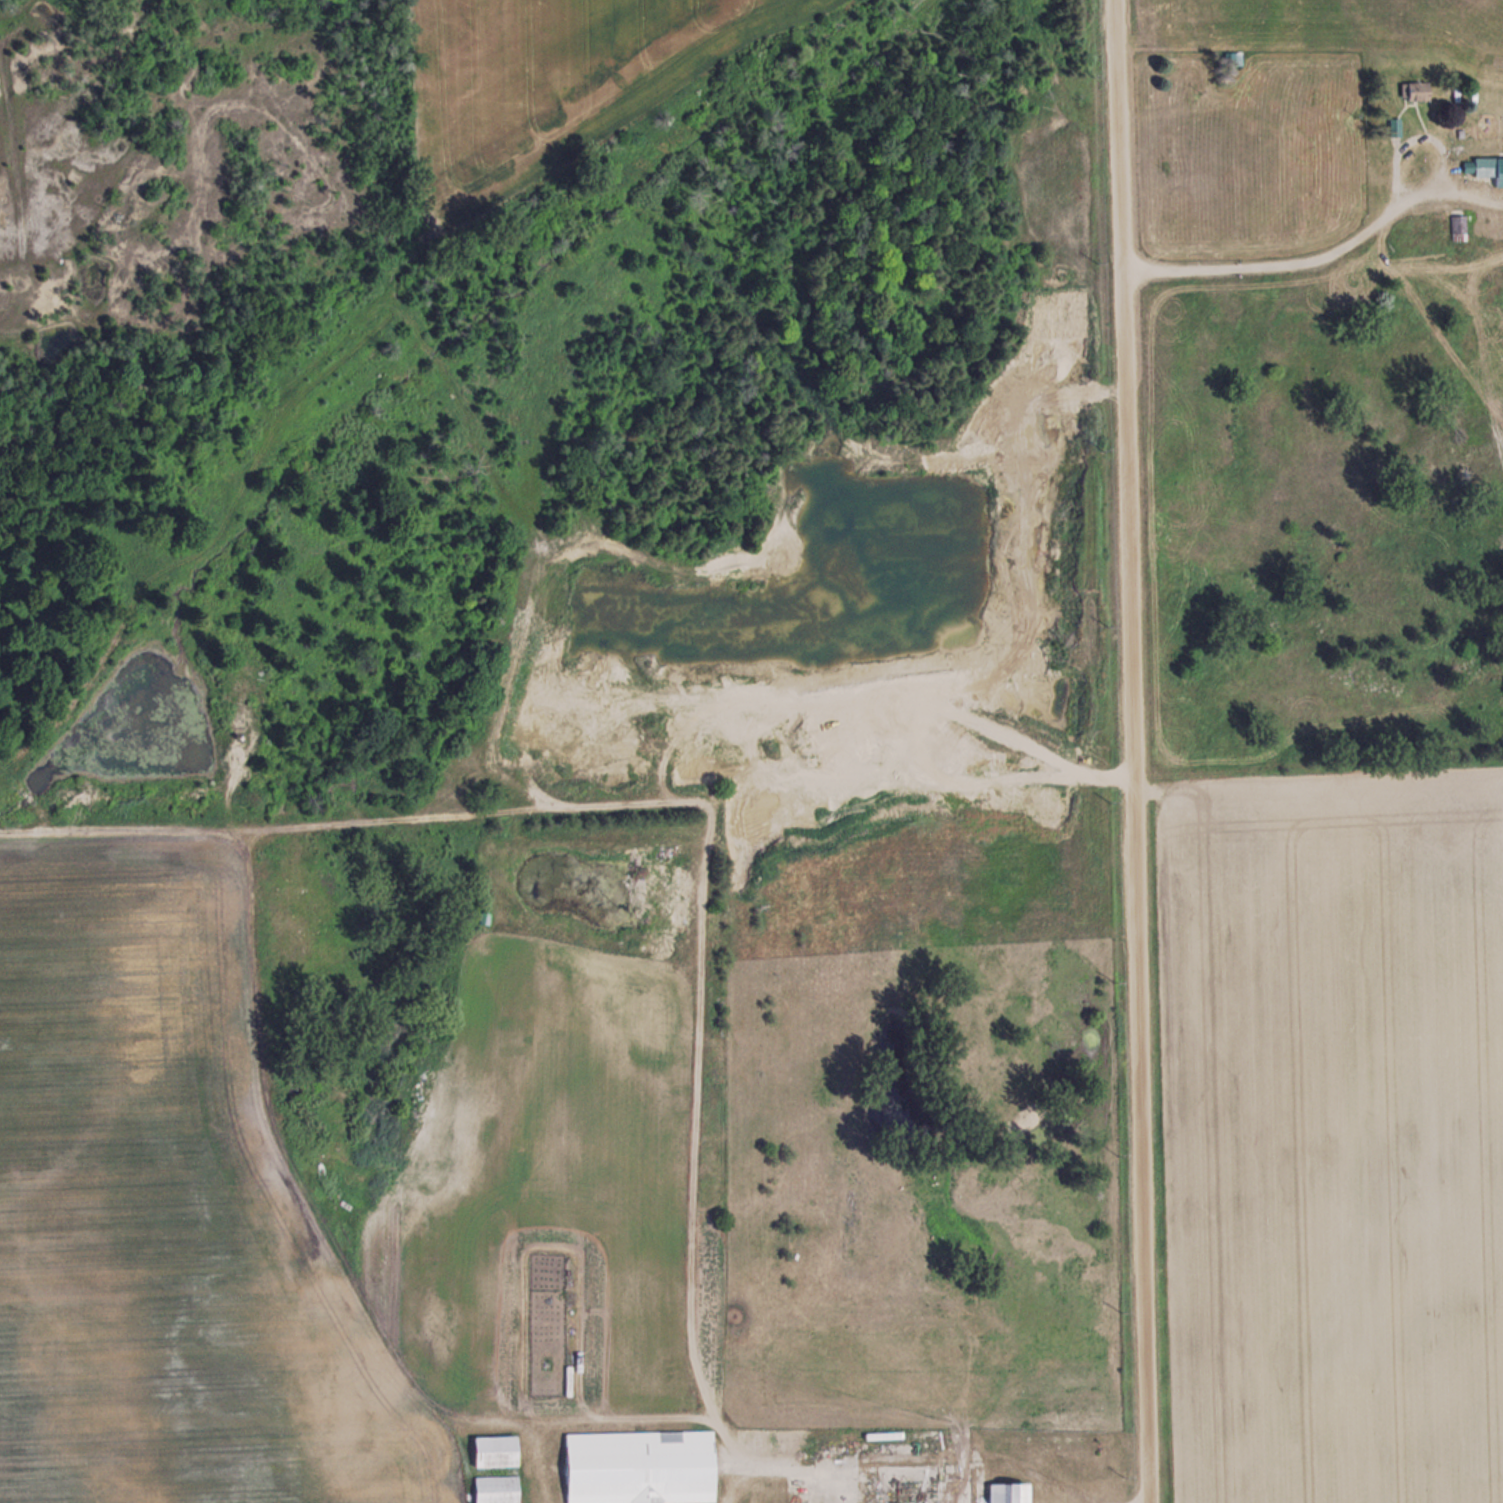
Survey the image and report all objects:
building: (1414, 90)
building: (1394, 125)
building: (1484, 166)
building: (1457, 224)
road: (1326, 250)
road: (1139, 751)
building: (494, 1449)
building: (639, 1466)
building: (496, 1489)
building: (1008, 1491)

